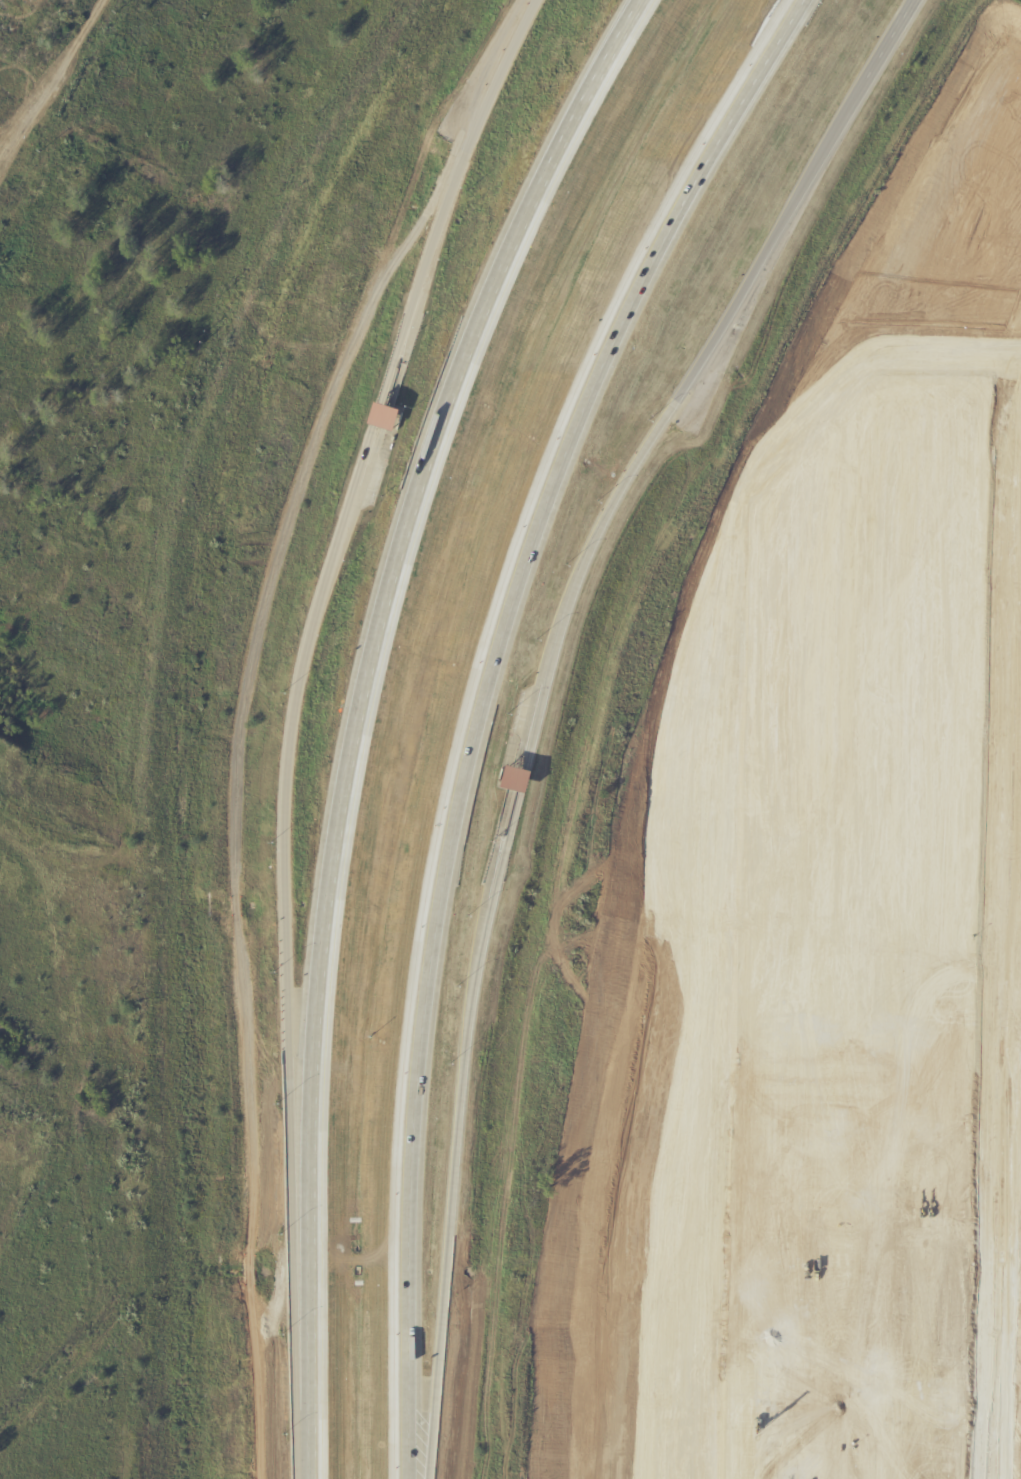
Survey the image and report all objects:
road: (914, 1)
road: (914, 1)
road: (915, 1)
road: (890, 41)
road: (47, 103)
road: (956, 142)
road: (996, 169)
road: (968, 177)
road: (448, 198)
road: (980, 236)
road: (669, 413)
road: (376, 414)
building: (384, 416)
road: (487, 707)
road: (354, 712)
road: (640, 777)
building: (516, 779)
road: (523, 781)
road: (658, 793)
road: (284, 908)
building: (883, 952)
road: (679, 1022)
road: (716, 1024)
road: (674, 1071)
road: (134, 1114)
road: (458, 1132)
road: (649, 1235)
road: (584, 1356)

